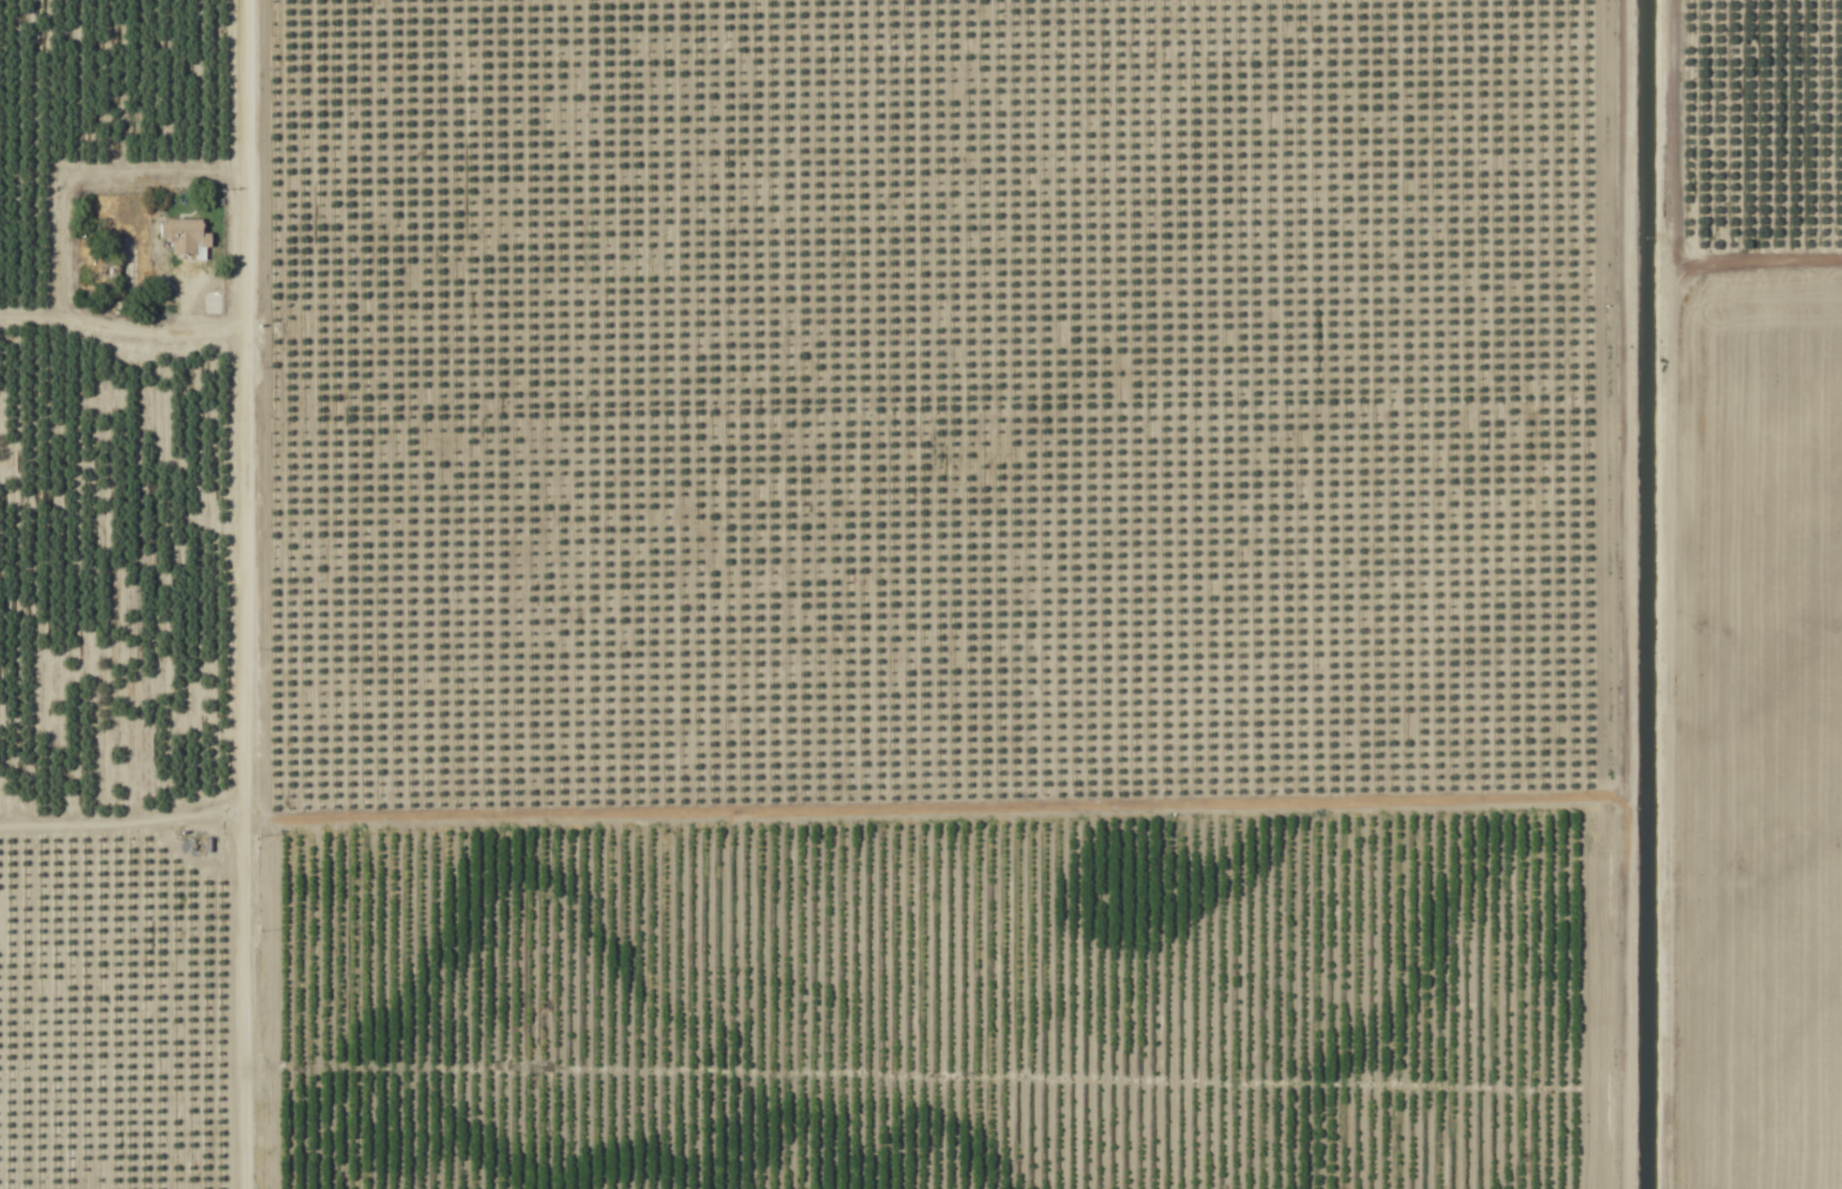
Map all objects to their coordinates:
building: (182, 236)
road: (247, 593)
road: (1656, 594)
road: (125, 827)

